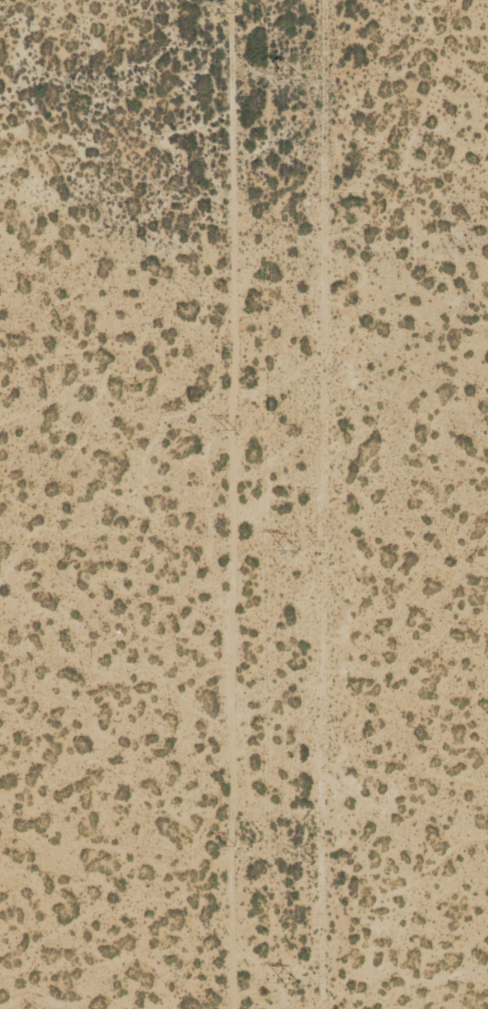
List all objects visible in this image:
power tower: (230, 13)
power tower: (293, 70)
power tower: (231, 430)
power tower: (291, 545)
power tower: (230, 846)
building: (434, 942)
power tower: (293, 980)
building: (335, 1003)

